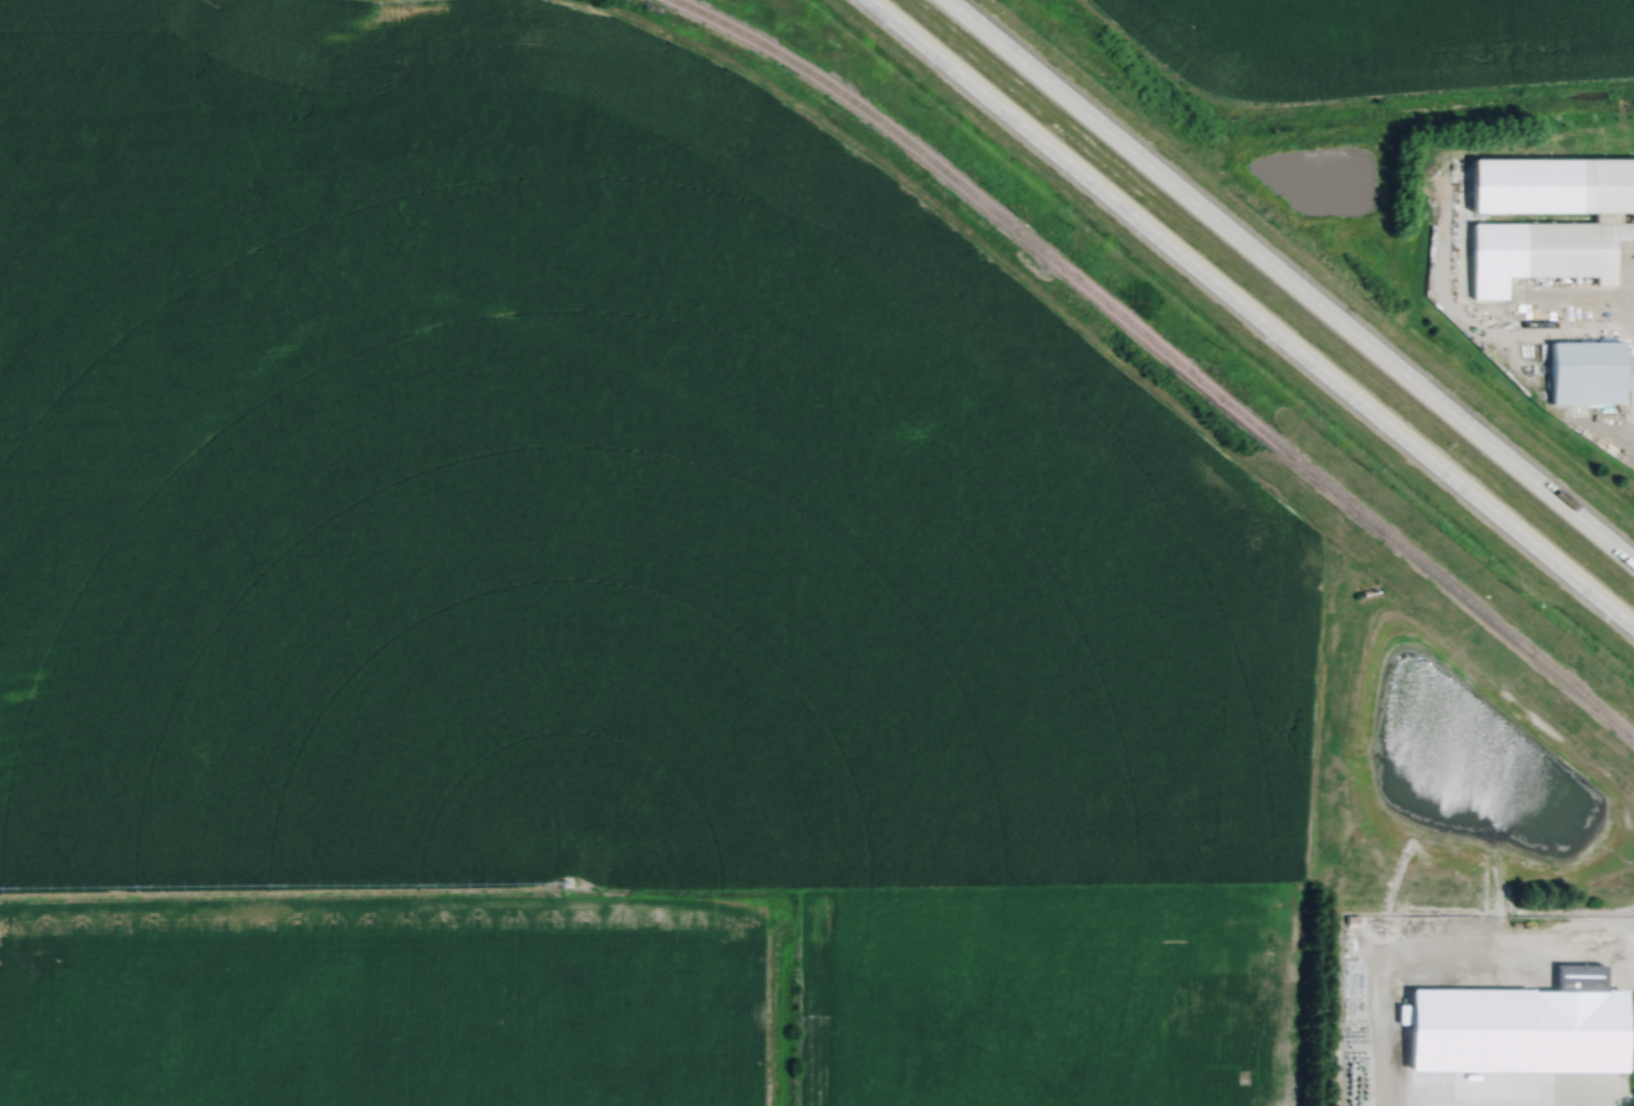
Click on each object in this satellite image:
building: (1587, 227)
road: (1289, 282)
road: (1246, 317)
railway: (1159, 343)
building: (1588, 375)
building: (1581, 1023)

